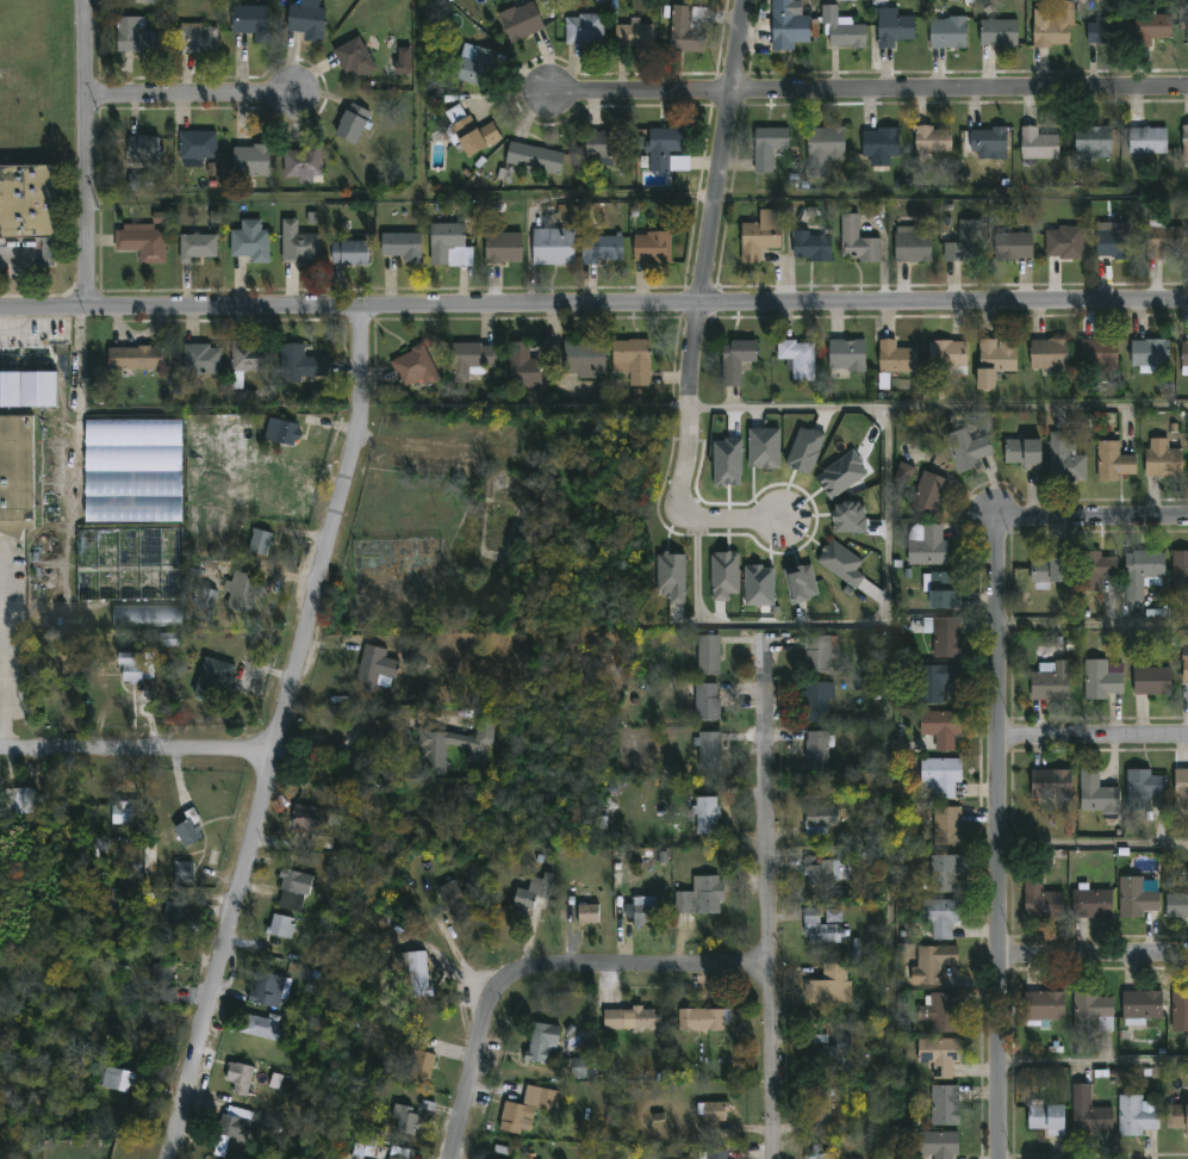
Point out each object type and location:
building: (153, 1)
building: (305, 21)
building: (520, 21)
building: (250, 24)
building: (786, 25)
building: (1052, 26)
building: (891, 29)
building: (1151, 29)
building: (686, 30)
building: (1187, 30)
building: (583, 31)
building: (840, 31)
building: (946, 33)
building: (1102, 33)
building: (997, 35)
building: (633, 37)
building: (135, 38)
building: (197, 41)
building: (353, 61)
building: (474, 67)
road: (867, 92)
road: (193, 103)
building: (350, 125)
building: (469, 132)
building: (932, 141)
building: (1093, 142)
building: (1146, 142)
building: (988, 144)
building: (1183, 144)
building: (604, 145)
building: (1037, 145)
building: (879, 147)
building: (197, 148)
building: (770, 149)
building: (142, 150)
building: (822, 150)
road: (89, 151)
building: (666, 151)
building: (533, 159)
building: (249, 162)
building: (301, 165)
building: (139, 182)
building: (26, 202)
building: (214, 217)
building: (161, 218)
building: (759, 236)
building: (249, 242)
building: (856, 242)
building: (1163, 242)
building: (142, 243)
building: (965, 243)
building: (1063, 243)
building: (297, 244)
building: (1114, 244)
building: (448, 246)
building: (912, 246)
building: (1013, 246)
building: (651, 247)
building: (808, 247)
building: (197, 248)
building: (400, 248)
building: (552, 248)
building: (502, 249)
building: (601, 250)
building: (348, 254)
road: (593, 300)
road: (698, 306)
building: (946, 354)
building: (1047, 354)
building: (1149, 354)
building: (1183, 354)
building: (1097, 355)
building: (845, 357)
building: (250, 358)
building: (796, 358)
building: (133, 359)
building: (895, 359)
building: (200, 360)
building: (468, 360)
building: (583, 360)
building: (734, 360)
building: (994, 360)
building: (632, 361)
building: (298, 364)
building: (411, 368)
building: (522, 368)
building: (27, 390)
road: (1035, 407)
building: (282, 432)
building: (764, 448)
building: (804, 450)
building: (966, 450)
building: (1021, 453)
building: (1063, 459)
building: (1162, 460)
building: (728, 463)
building: (1113, 463)
building: (131, 470)
building: (15, 471)
building: (904, 473)
building: (841, 475)
building: (927, 494)
building: (850, 517)
building: (259, 541)
building: (926, 544)
road: (888, 562)
building: (841, 563)
building: (127, 564)
building: (1097, 569)
building: (1049, 570)
building: (1140, 571)
building: (1180, 571)
building: (724, 576)
building: (671, 577)
building: (801, 583)
building: (759, 585)
building: (941, 590)
building: (242, 591)
building: (206, 597)
building: (144, 616)
road: (1093, 624)
building: (945, 638)
building: (169, 640)
road: (5, 652)
building: (820, 655)
building: (707, 656)
building: (135, 668)
building: (377, 668)
building: (1184, 669)
building: (1102, 680)
building: (212, 681)
building: (1049, 681)
building: (1150, 681)
building: (934, 682)
building: (705, 702)
building: (816, 702)
building: (940, 730)
road: (279, 732)
building: (456, 740)
road: (1093, 740)
road: (997, 750)
building: (708, 751)
building: (816, 752)
road: (136, 755)
road: (344, 756)
building: (938, 777)
building: (1050, 785)
building: (1142, 788)
building: (1180, 794)
building: (1095, 795)
building: (19, 800)
building: (120, 813)
building: (705, 817)
building: (820, 820)
building: (310, 822)
building: (186, 824)
building: (947, 828)
road: (1093, 843)
building: (132, 855)
building: (184, 872)
building: (820, 873)
building: (943, 874)
building: (294, 884)
building: (530, 893)
building: (699, 897)
building: (1039, 898)
building: (1136, 899)
building: (450, 900)
road: (766, 903)
building: (1090, 904)
building: (1176, 904)
building: (642, 911)
building: (172, 915)
building: (586, 915)
building: (940, 921)
building: (822, 925)
building: (279, 926)
road: (1093, 957)
building: (931, 965)
road: (543, 972)
building: (417, 974)
building: (162, 985)
building: (828, 986)
building: (266, 991)
building: (1043, 1006)
building: (1140, 1006)
building: (1180, 1008)
building: (1091, 1009)
building: (943, 1014)
building: (629, 1021)
building: (702, 1021)
building: (260, 1029)
building: (541, 1045)
building: (831, 1049)
building: (938, 1058)
road: (1094, 1062)
building: (418, 1068)
building: (579, 1068)
building: (237, 1079)
building: (116, 1081)
building: (944, 1107)
building: (714, 1111)
building: (522, 1112)
building: (820, 1112)
building: (1087, 1112)
building: (1133, 1116)
building: (1177, 1118)
building: (1045, 1121)
building: (403, 1122)
building: (228, 1134)
building: (938, 1145)
building: (817, 1153)
building: (721, 1157)
building: (388, 1158)
building: (392, 1158)

